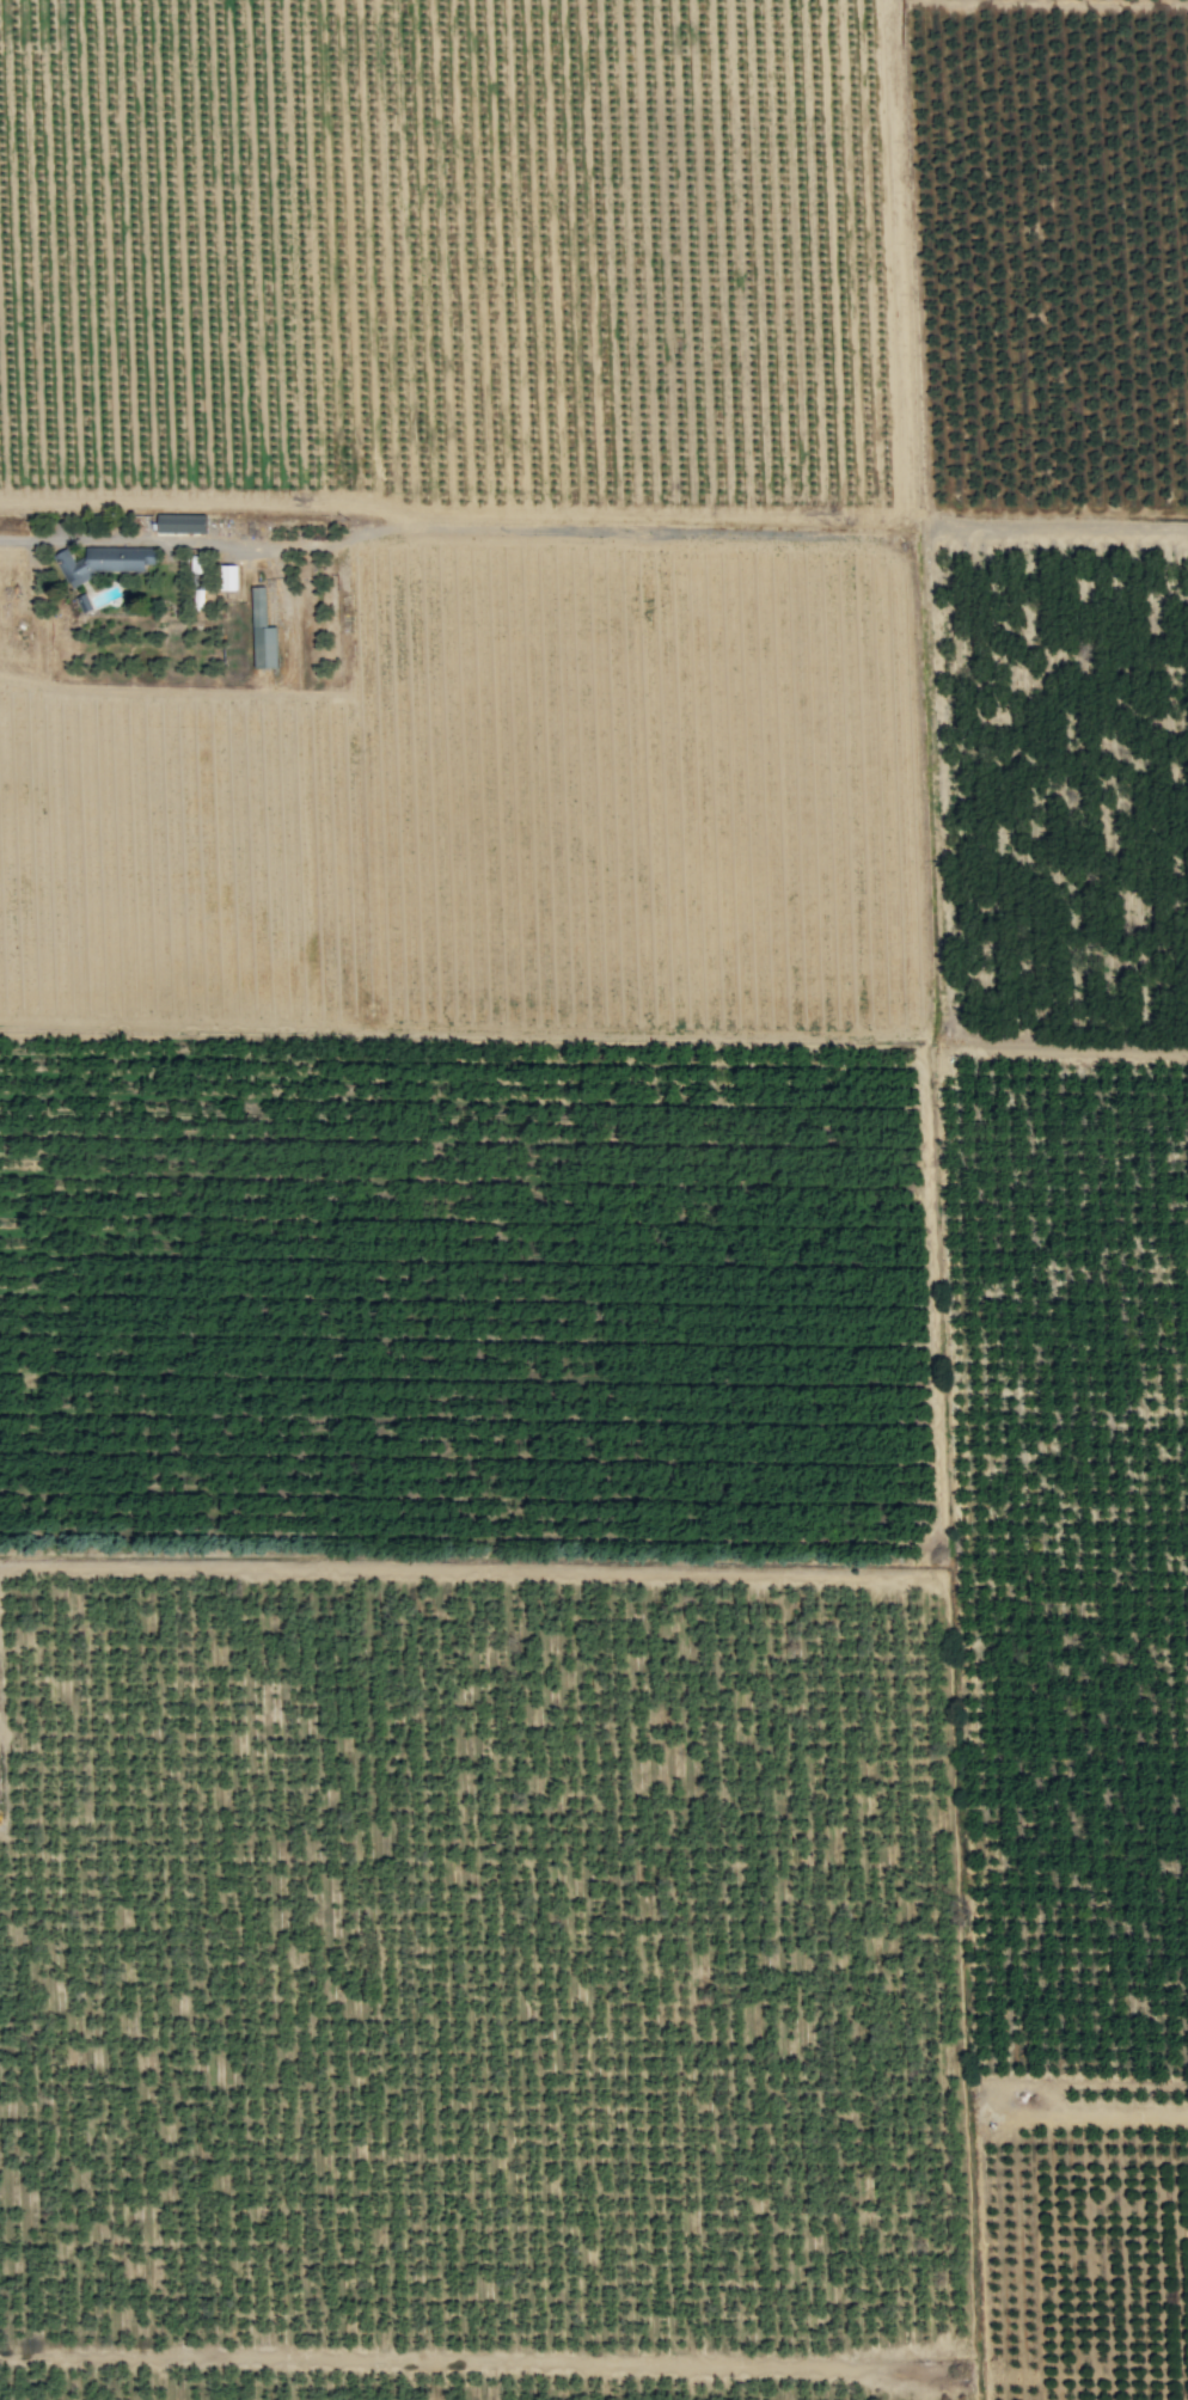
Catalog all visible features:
building: (182, 524)
building: (103, 563)
building: (229, 577)
building: (649, 602)
building: (259, 607)
road: (1067, 1045)

